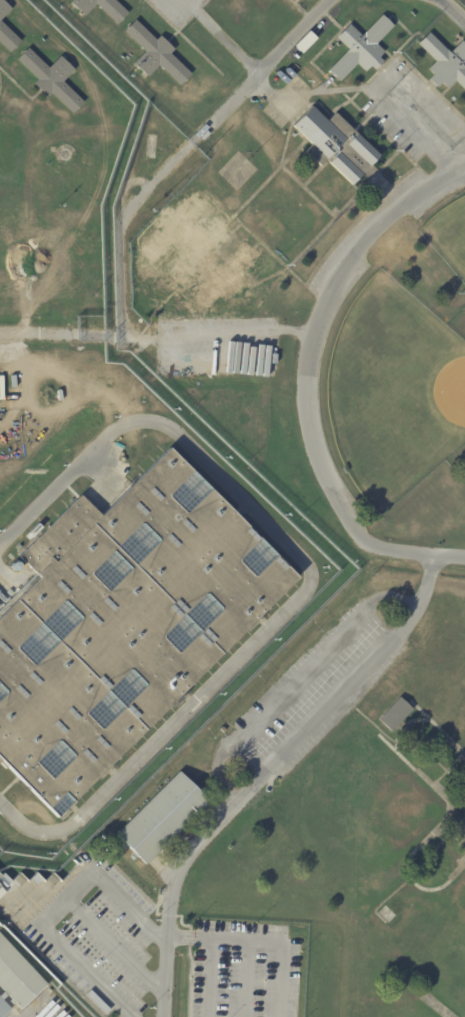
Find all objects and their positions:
building: (103, 7)
building: (4, 8)
road: (453, 10)
building: (8, 37)
building: (302, 42)
building: (360, 46)
building: (155, 52)
building: (445, 61)
building: (52, 77)
road: (306, 92)
road: (427, 140)
building: (337, 146)
road: (119, 224)
park: (448, 238)
building: (201, 253)
road: (307, 365)
park: (394, 391)
building: (33, 530)
road: (449, 557)
road: (307, 581)
building: (122, 623)
road: (294, 679)
park: (437, 686)
building: (395, 714)
road: (265, 773)
park: (371, 812)
building: (162, 819)
building: (0, 876)
road: (51, 908)
park: (440, 928)
road: (263, 939)
road: (110, 944)
road: (210, 977)
building: (17, 979)
road: (125, 1014)

